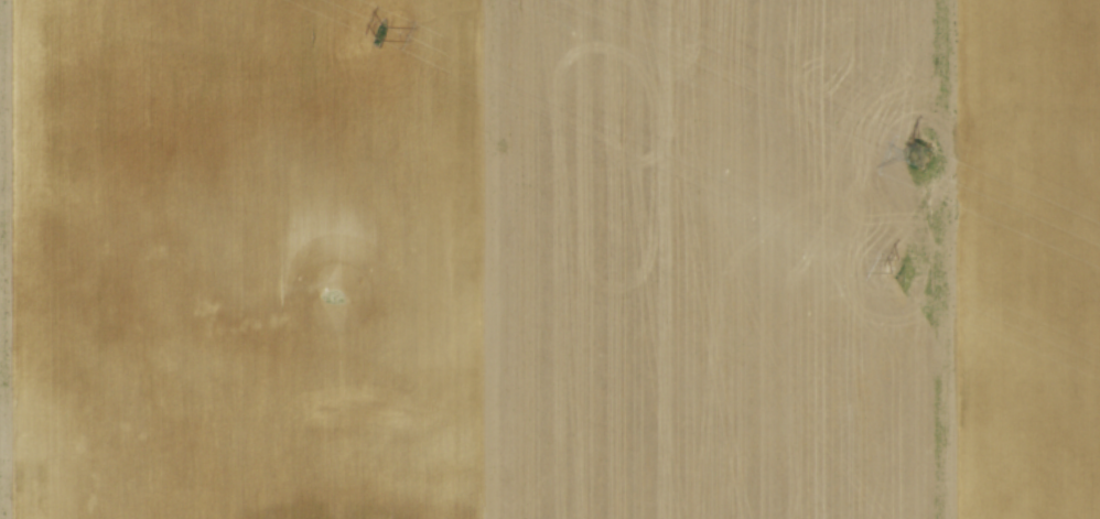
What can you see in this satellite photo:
power tower: (380, 29)
power tower: (919, 152)
crop: (550, 259)
power tower: (894, 266)

